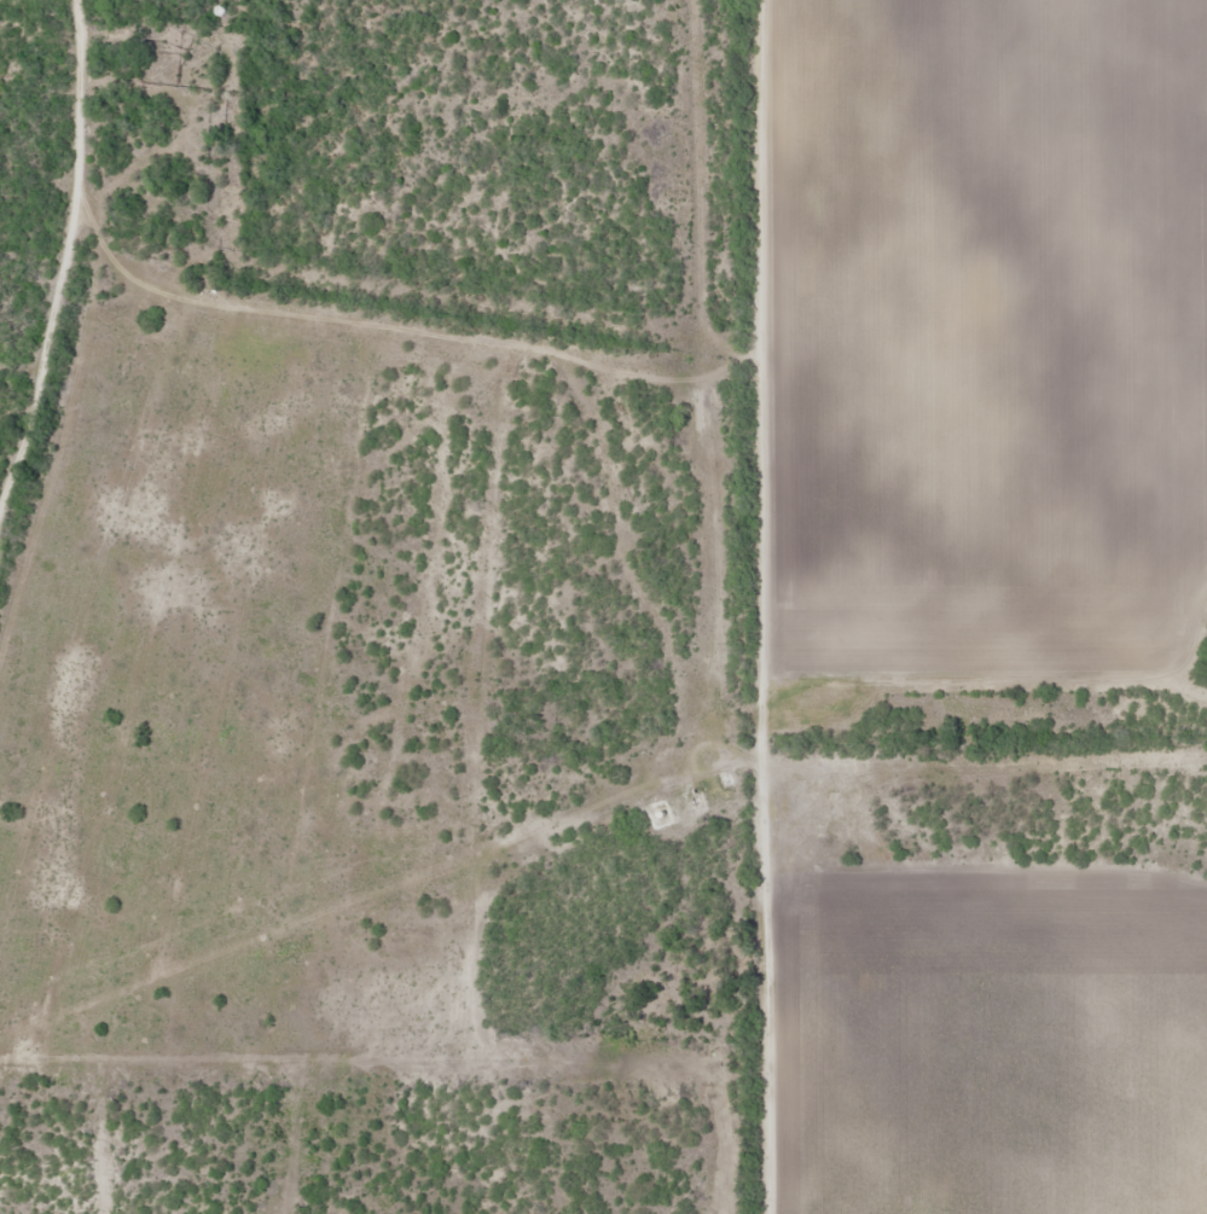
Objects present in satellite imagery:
road: (64, 250)

